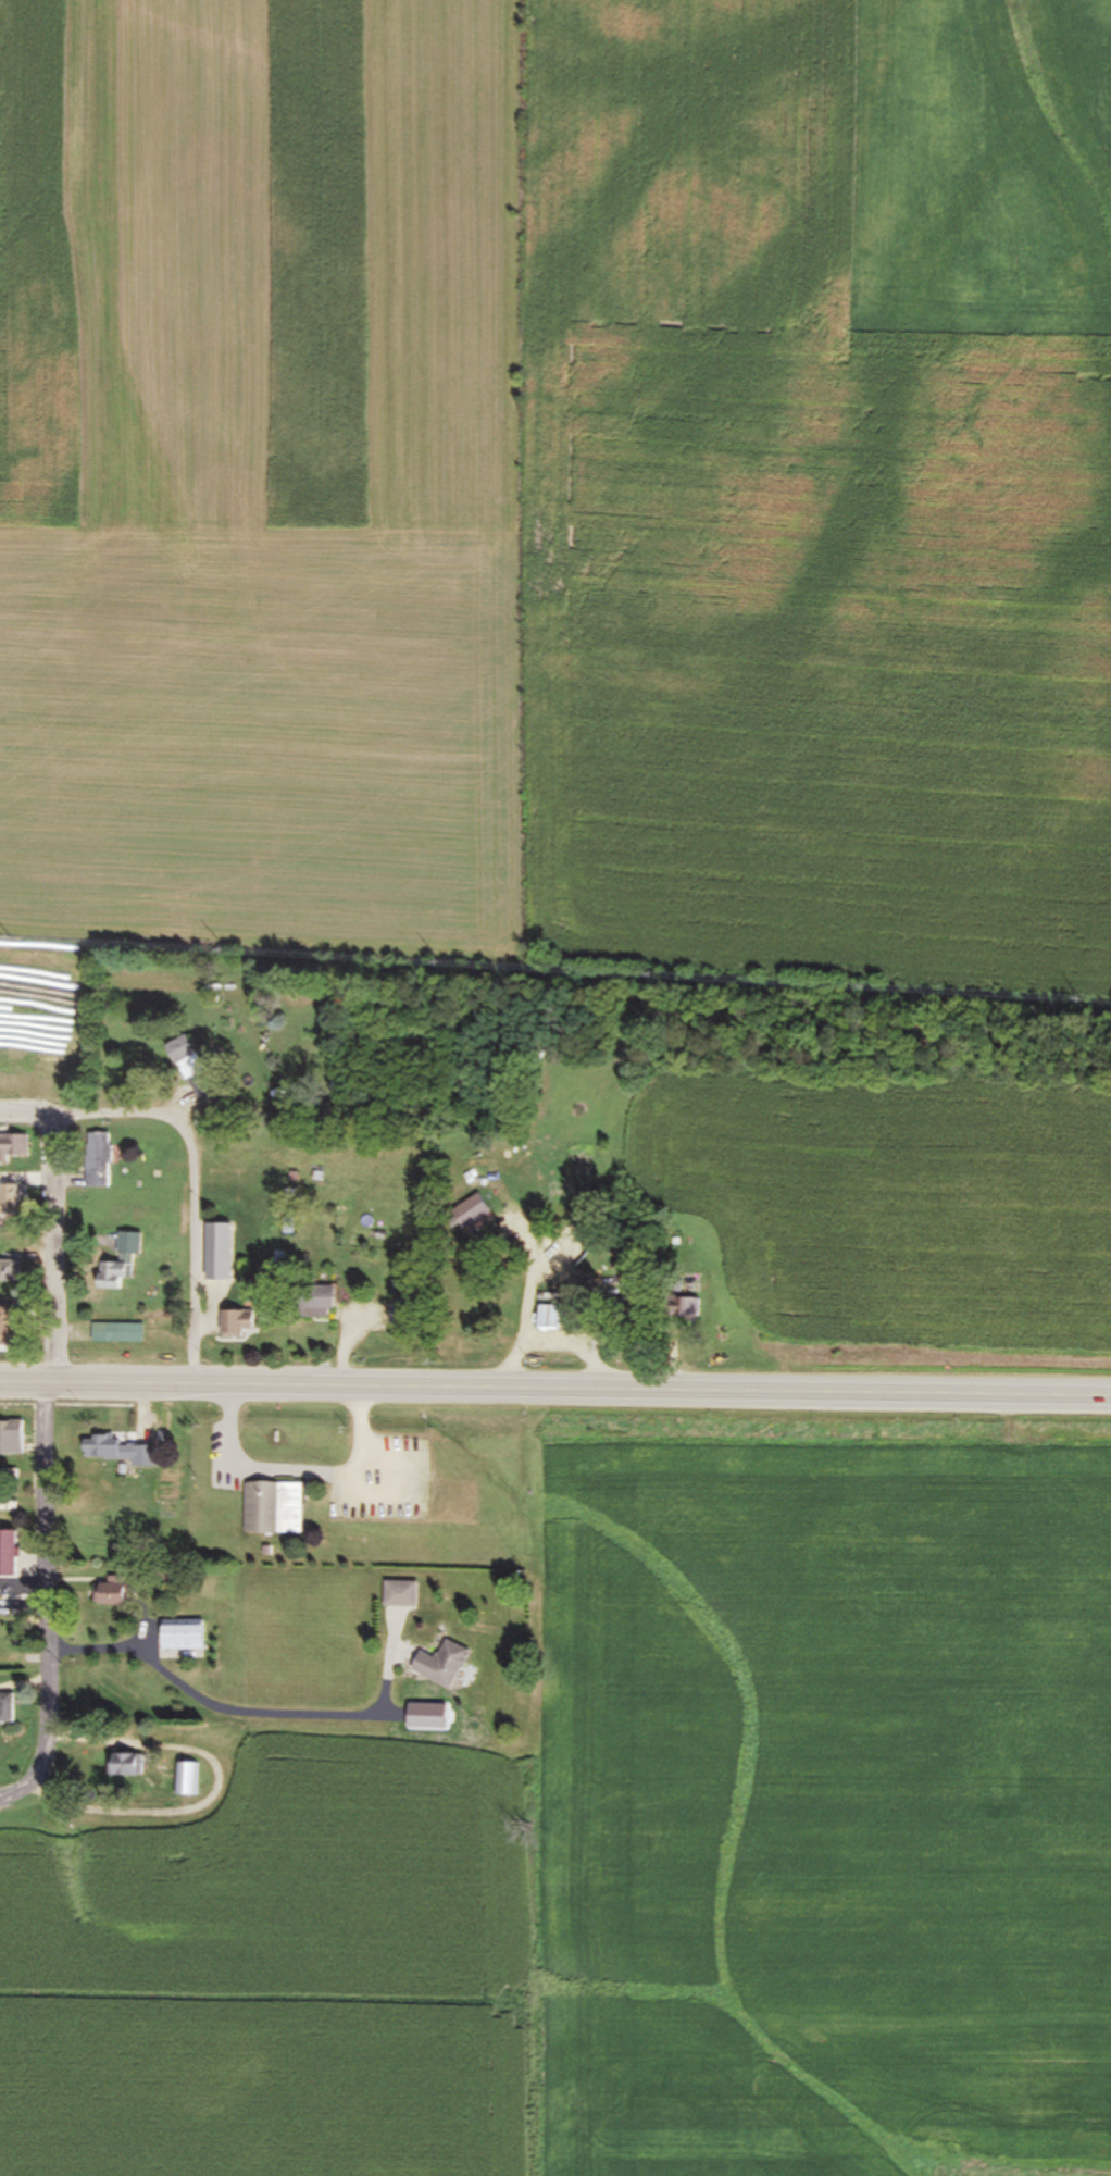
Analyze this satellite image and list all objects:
building: (191, 1068)
building: (13, 1148)
building: (98, 1160)
road: (192, 1161)
building: (8, 1204)
building: (471, 1211)
road: (52, 1252)
building: (122, 1261)
building: (9, 1270)
building: (632, 1288)
building: (684, 1300)
building: (315, 1301)
building: (402, 1316)
building: (549, 1318)
building: (238, 1323)
building: (7, 1325)
building: (116, 1333)
road: (554, 1392)
building: (10, 1438)
building: (114, 1451)
building: (273, 1508)
building: (8, 1553)
building: (116, 1592)
building: (399, 1594)
road: (50, 1603)
building: (183, 1639)
building: (440, 1665)
building: (5, 1708)
building: (126, 1765)
building: (185, 1779)

